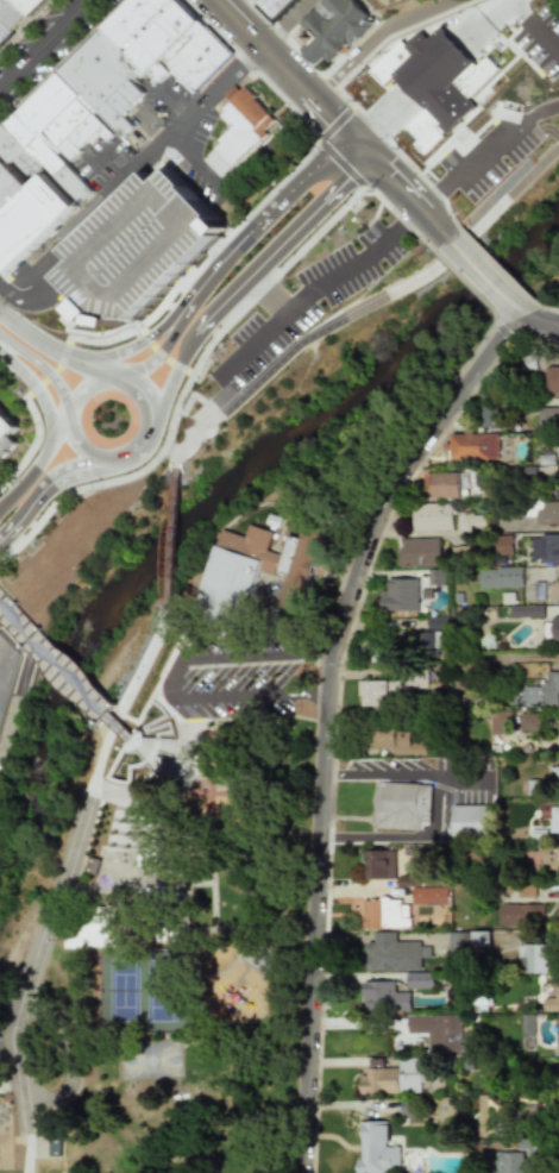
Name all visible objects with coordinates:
building: (274, 8)
building: (14, 14)
building: (333, 31)
road: (384, 40)
road: (45, 44)
road: (293, 77)
building: (467, 82)
traffic signals: (344, 128)
building: (238, 132)
road: (156, 155)
road: (488, 155)
road: (245, 171)
traffic signals: (389, 176)
traffic signals: (343, 182)
road: (410, 199)
building: (33, 222)
road: (240, 237)
building: (138, 247)
parking garage: (138, 247)
road: (214, 252)
road: (265, 257)
road: (484, 275)
road: (42, 297)
road: (272, 301)
road: (366, 306)
road: (318, 307)
road: (521, 312)
road: (541, 322)
road: (67, 326)
road: (157, 328)
road: (36, 341)
road: (111, 356)
road: (161, 357)
building: (525, 360)
road: (39, 369)
road: (92, 369)
road: (136, 369)
building: (551, 379)
road: (34, 389)
road: (163, 396)
road: (142, 397)
building: (486, 412)
building: (547, 416)
building: (8, 427)
road: (48, 443)
building: (557, 445)
building: (470, 446)
road: (69, 471)
building: (440, 484)
building: (555, 484)
road: (18, 488)
river: (212, 501)
road: (24, 510)
building: (546, 512)
building: (431, 516)
road: (169, 534)
building: (502, 545)
building: (544, 547)
building: (417, 552)
building: (252, 575)
building: (433, 577)
building: (498, 577)
building: (553, 591)
building: (398, 595)
building: (525, 610)
road: (43, 614)
building: (433, 622)
building: (554, 627)
building: (425, 642)
road: (155, 669)
road: (68, 678)
building: (387, 690)
building: (539, 692)
road: (326, 715)
building: (496, 721)
building: (527, 722)
building: (392, 740)
building: (552, 776)
road: (98, 792)
road: (440, 804)
building: (401, 805)
building: (469, 818)
building: (553, 820)
building: (378, 864)
building: (525, 891)
building: (427, 896)
building: (557, 912)
building: (384, 914)
building: (519, 915)
building: (94, 933)
park: (157, 935)
building: (478, 941)
building: (456, 945)
building: (391, 953)
building: (532, 958)
building: (417, 980)
building: (382, 997)
building: (551, 1000)
building: (525, 1024)
building: (555, 1033)
building: (439, 1034)
road: (20, 1075)
building: (391, 1077)
building: (557, 1078)
building: (376, 1149)
building: (503, 1162)

